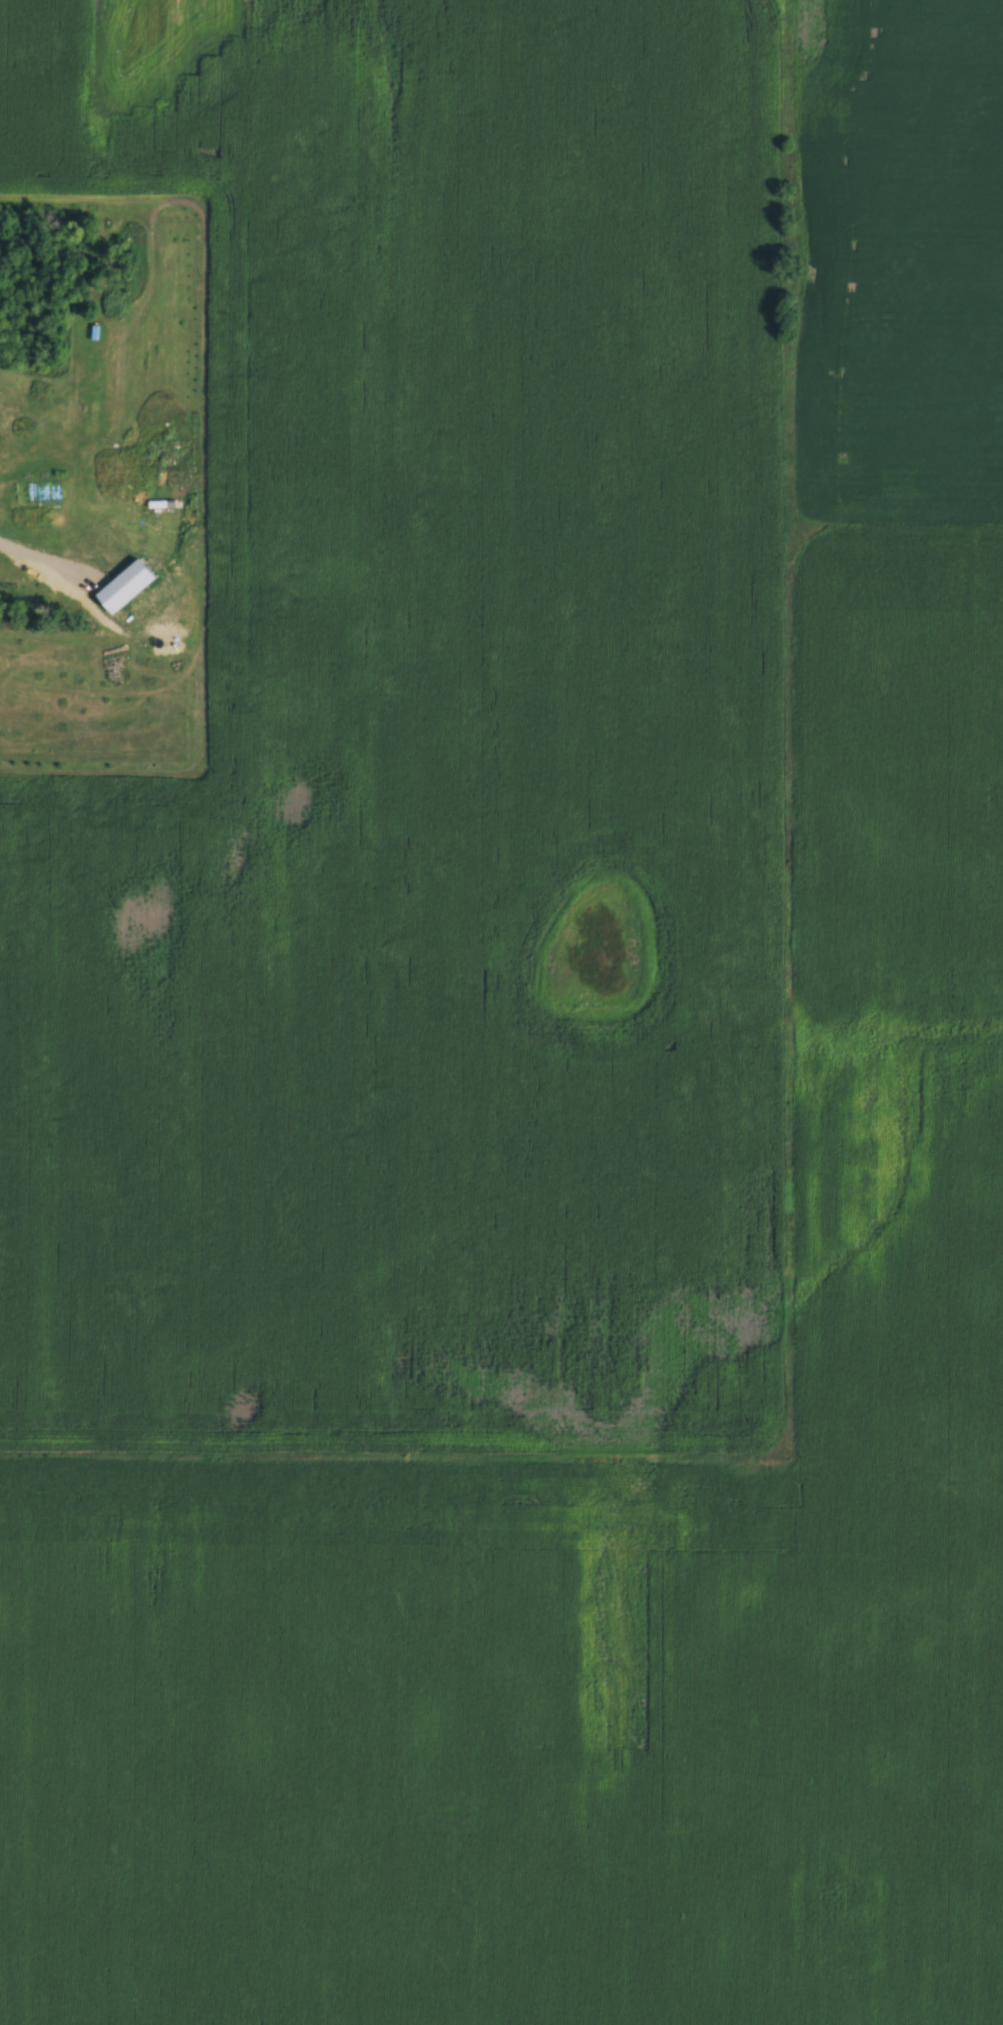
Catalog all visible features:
building: (114, 479)
building: (26, 517)

